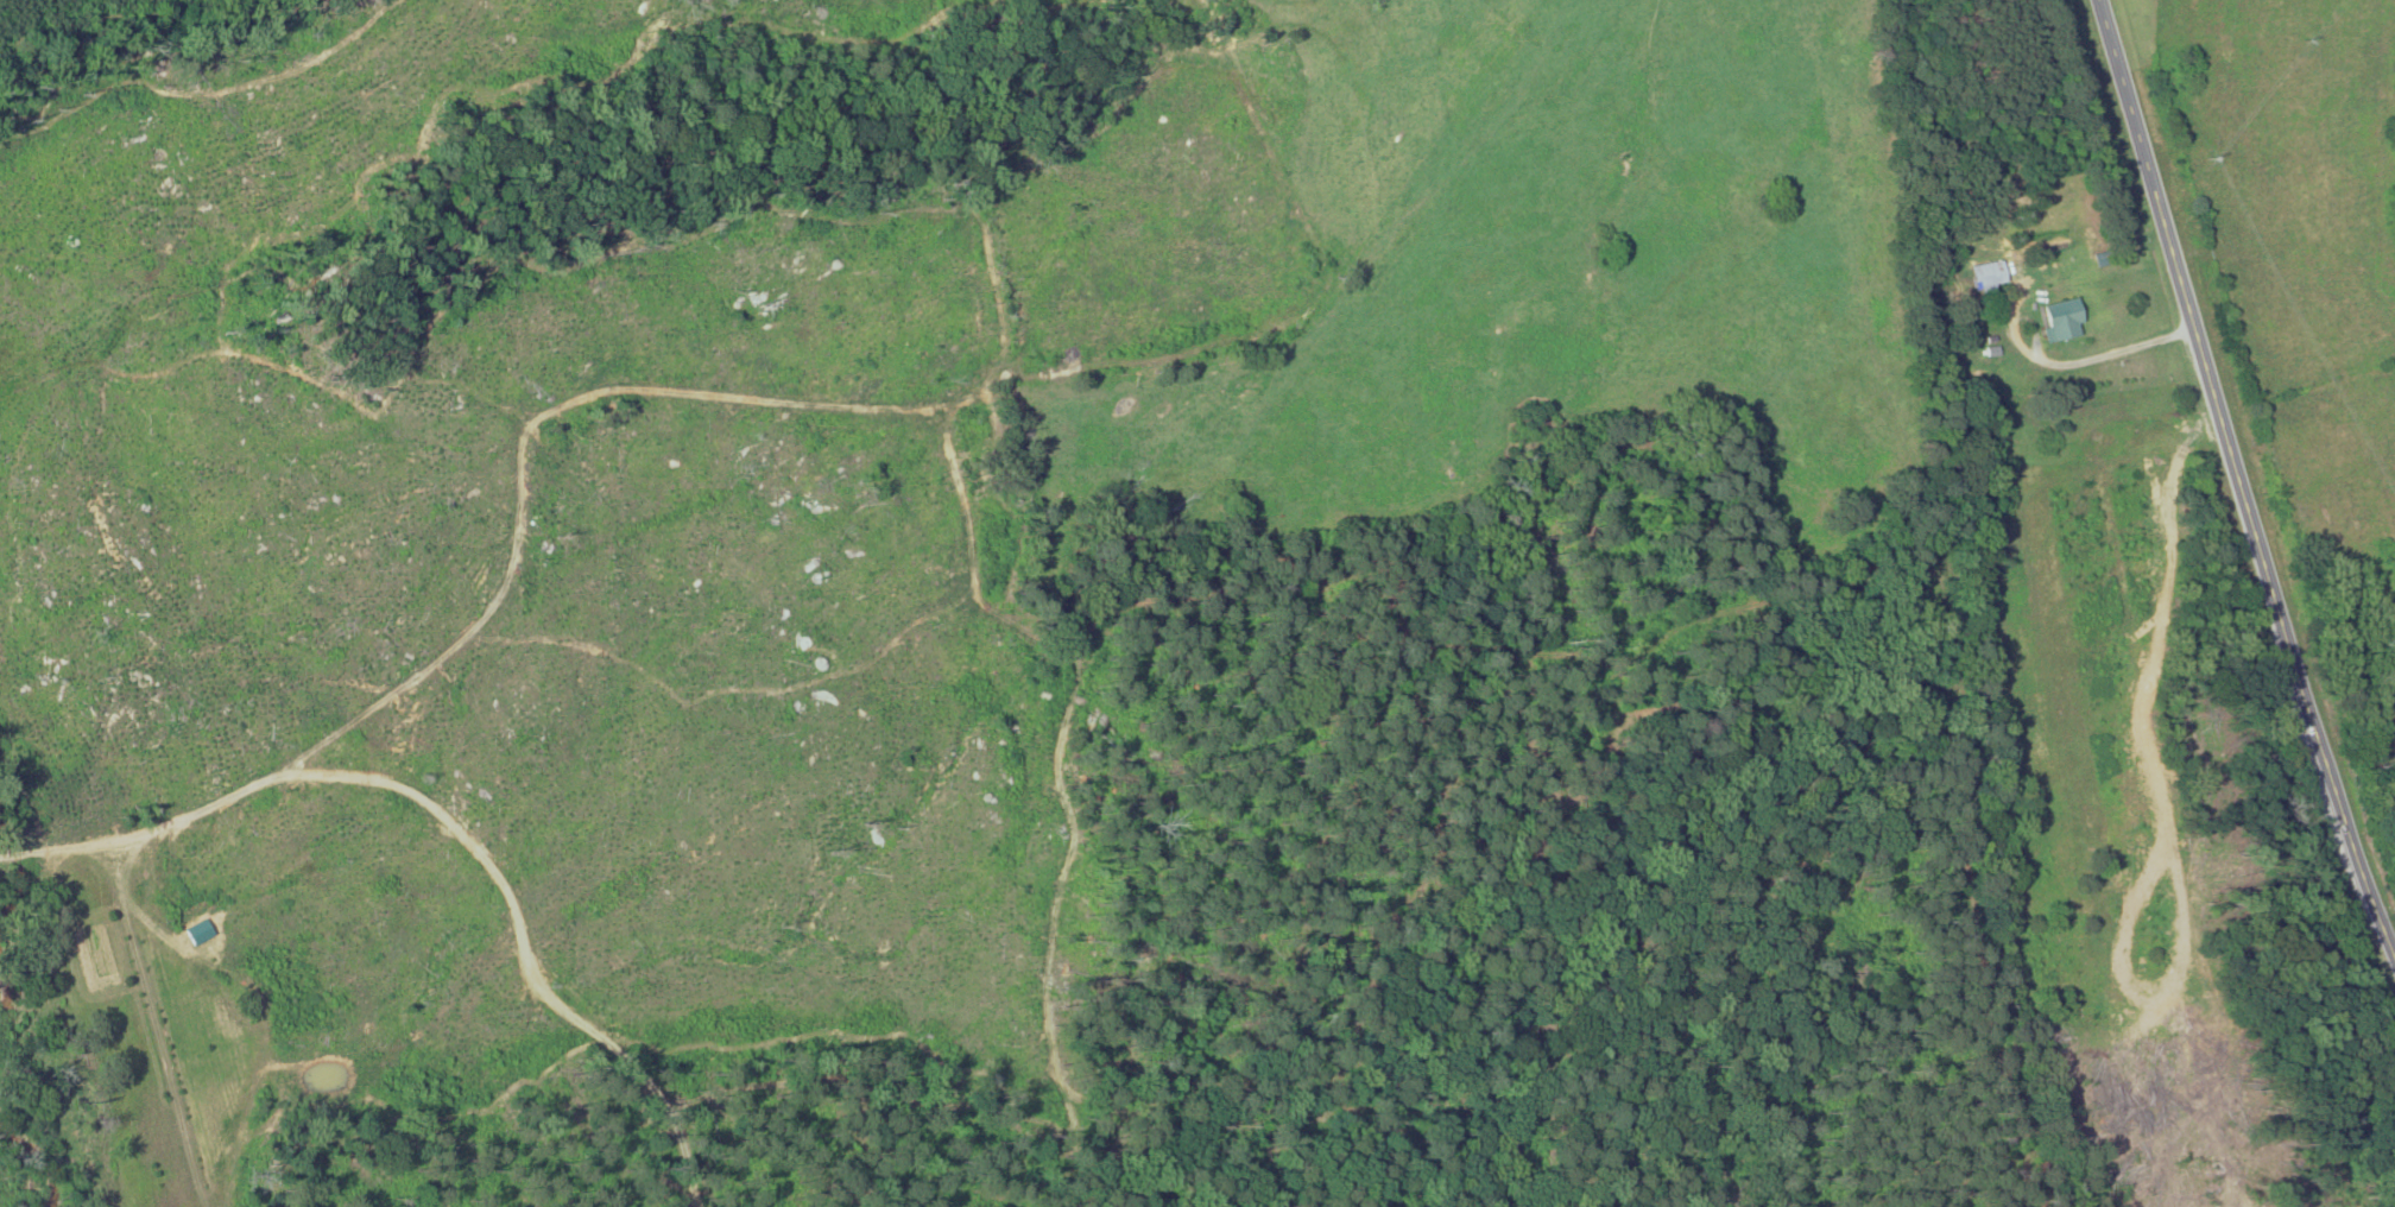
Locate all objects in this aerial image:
building: (1985, 277)
building: (2061, 321)
road: (2239, 480)

